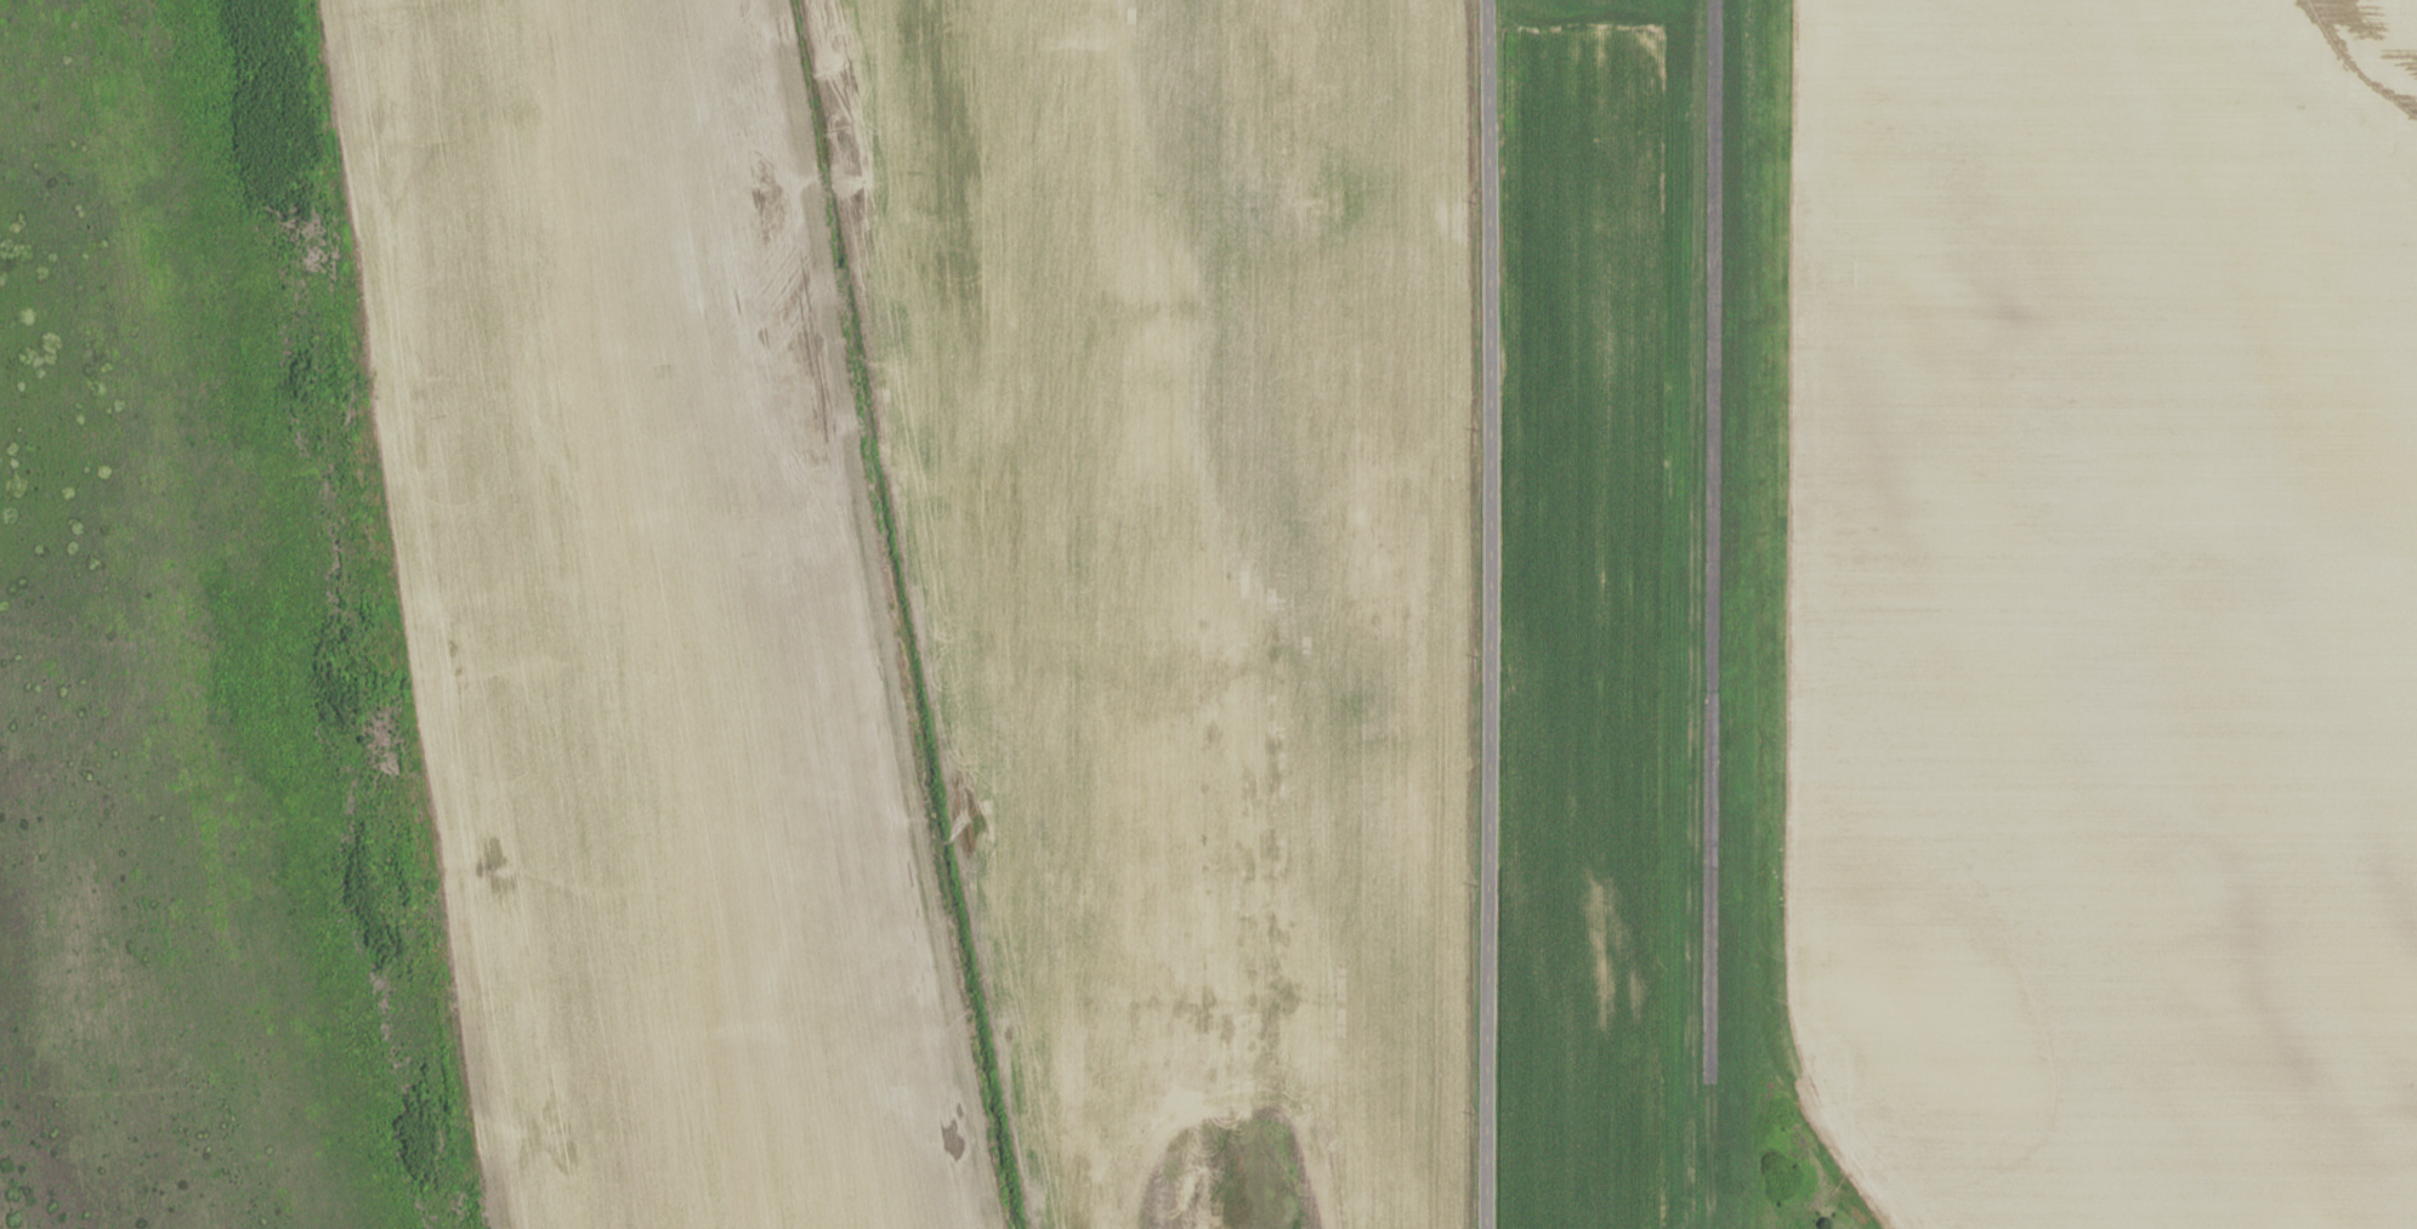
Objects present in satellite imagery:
airport runway: (1709, 539)
road: (1490, 614)

